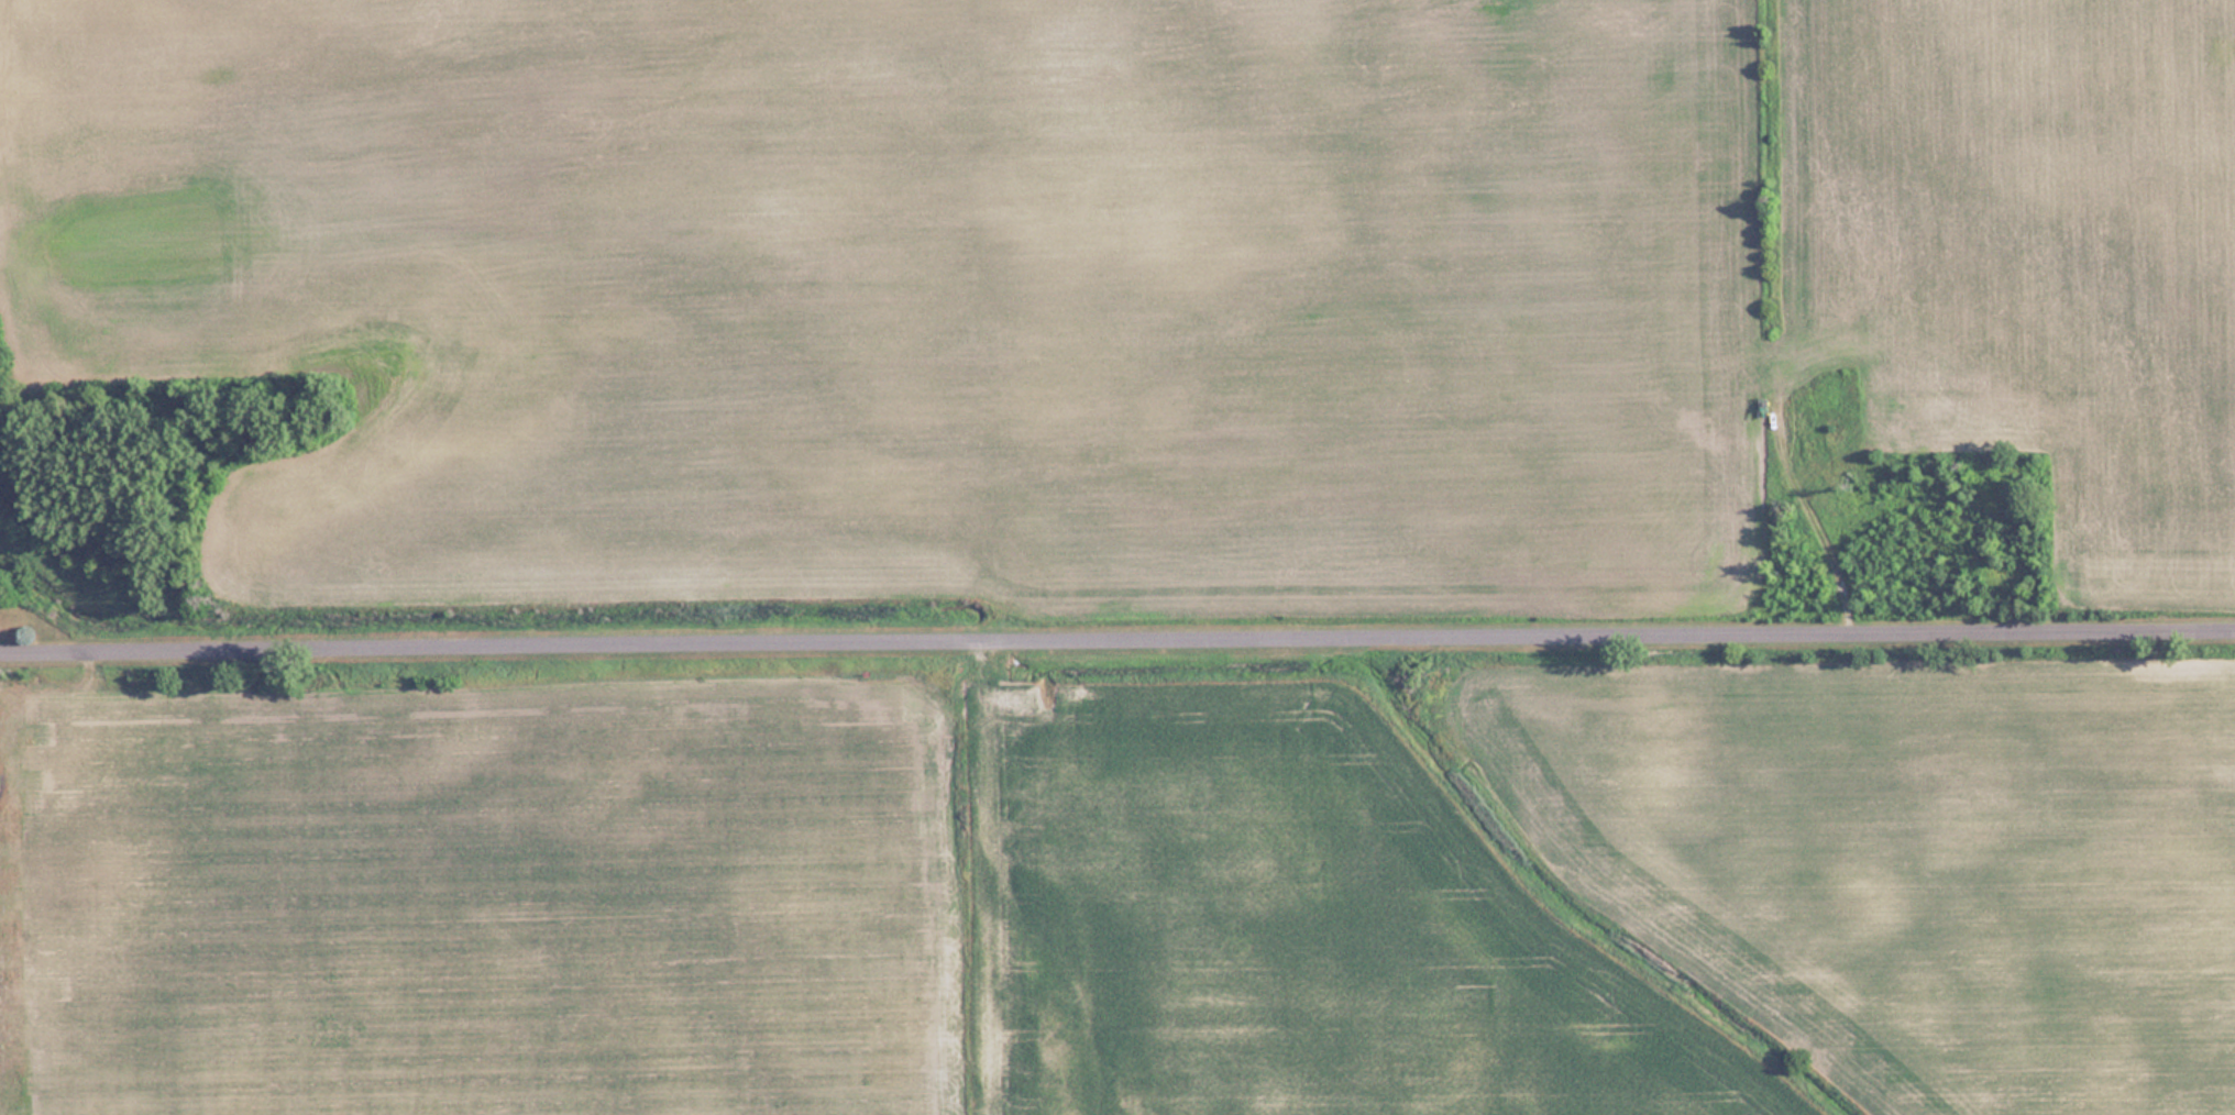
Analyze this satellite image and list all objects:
road: (1783, 321)
road: (1116, 643)

